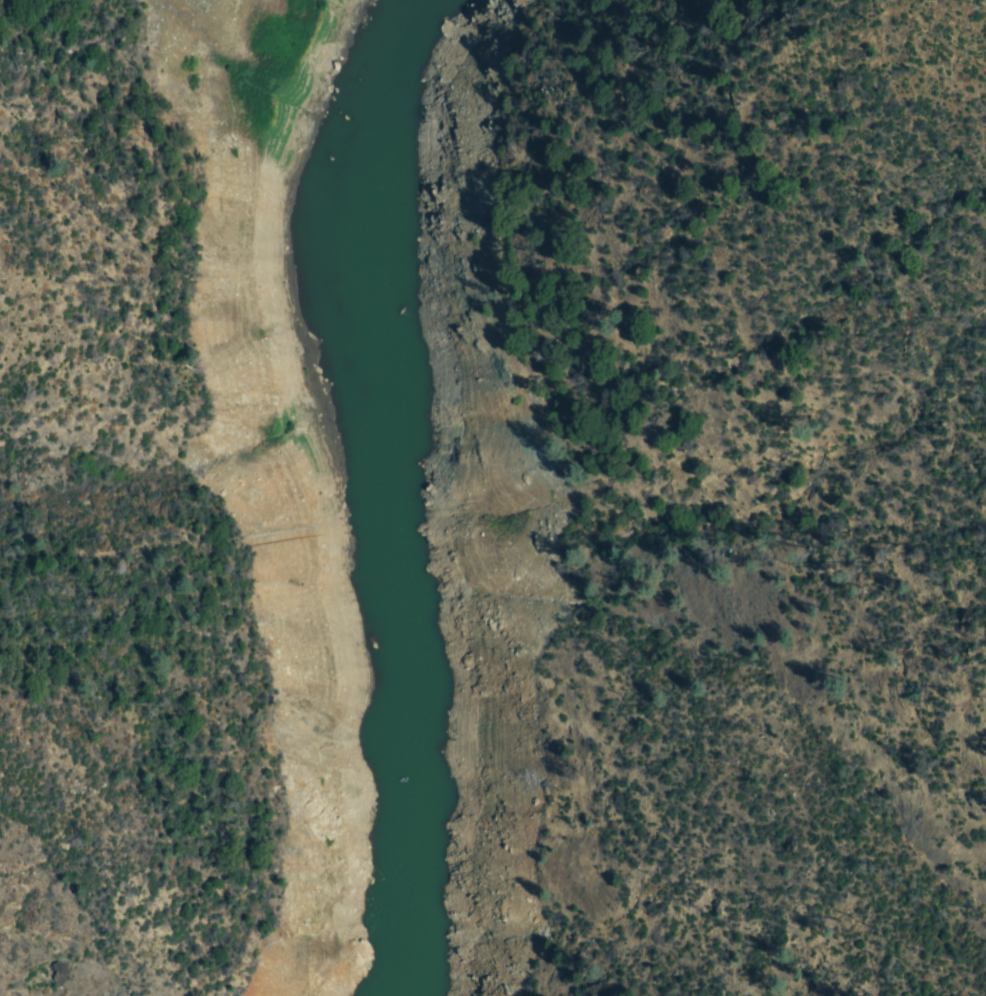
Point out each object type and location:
river: (357, 493)

